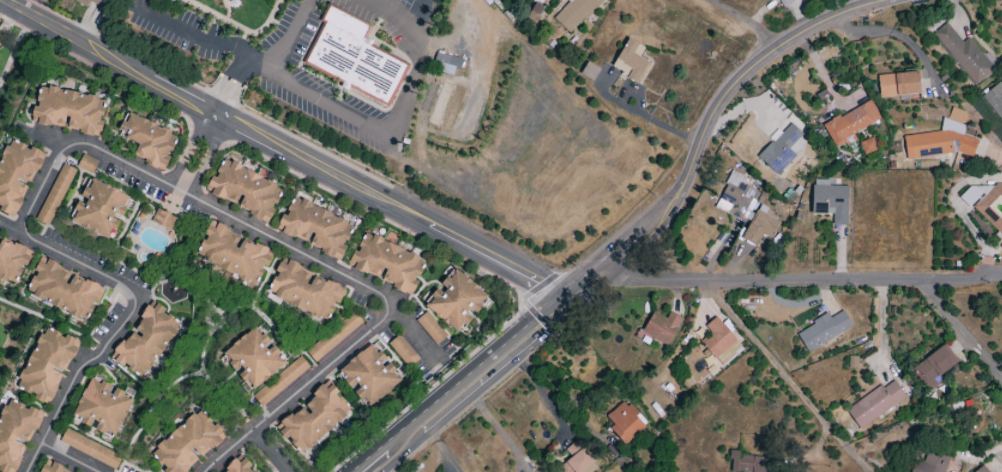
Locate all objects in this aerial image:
building: (90, 2)
building: (783, 2)
building: (574, 13)
road: (751, 23)
road: (292, 28)
road: (894, 31)
road: (220, 45)
road: (10, 55)
building: (964, 55)
building: (354, 57)
road: (109, 58)
road: (265, 58)
building: (631, 61)
park: (16, 70)
building: (589, 71)
road: (104, 74)
building: (898, 84)
building: (995, 99)
building: (69, 110)
building: (851, 122)
road: (654, 123)
road: (707, 124)
road: (385, 134)
road: (293, 137)
building: (149, 140)
building: (939, 142)
building: (781, 149)
road: (990, 152)
road: (198, 154)
building: (86, 163)
building: (16, 174)
building: (244, 190)
building: (55, 194)
building: (738, 196)
building: (830, 201)
road: (393, 206)
building: (992, 207)
building: (99, 209)
building: (163, 219)
building: (315, 227)
building: (760, 227)
road: (293, 252)
building: (231, 253)
building: (12, 259)
building: (387, 263)
road: (962, 278)
road: (819, 281)
building: (63, 290)
building: (304, 290)
building: (455, 301)
road: (524, 302)
traffic signals: (566, 302)
road: (53, 324)
road: (125, 324)
building: (661, 327)
building: (430, 328)
road: (410, 329)
building: (823, 330)
park: (15, 331)
building: (333, 336)
building: (717, 338)
building: (146, 340)
building: (403, 351)
building: (253, 358)
building: (47, 364)
road: (477, 364)
building: (935, 366)
road: (500, 374)
building: (369, 375)
road: (788, 378)
building: (280, 381)
road: (430, 388)
building: (875, 404)
building: (102, 407)
building: (314, 419)
building: (625, 422)
building: (15, 433)
building: (187, 442)
building: (90, 449)
road: (271, 452)
road: (372, 453)
road: (405, 455)
road: (386, 456)
road: (67, 459)
building: (576, 459)
building: (746, 463)
building: (932, 463)
building: (237, 466)
building: (44, 470)
building: (984, 470)
building: (252, 471)

